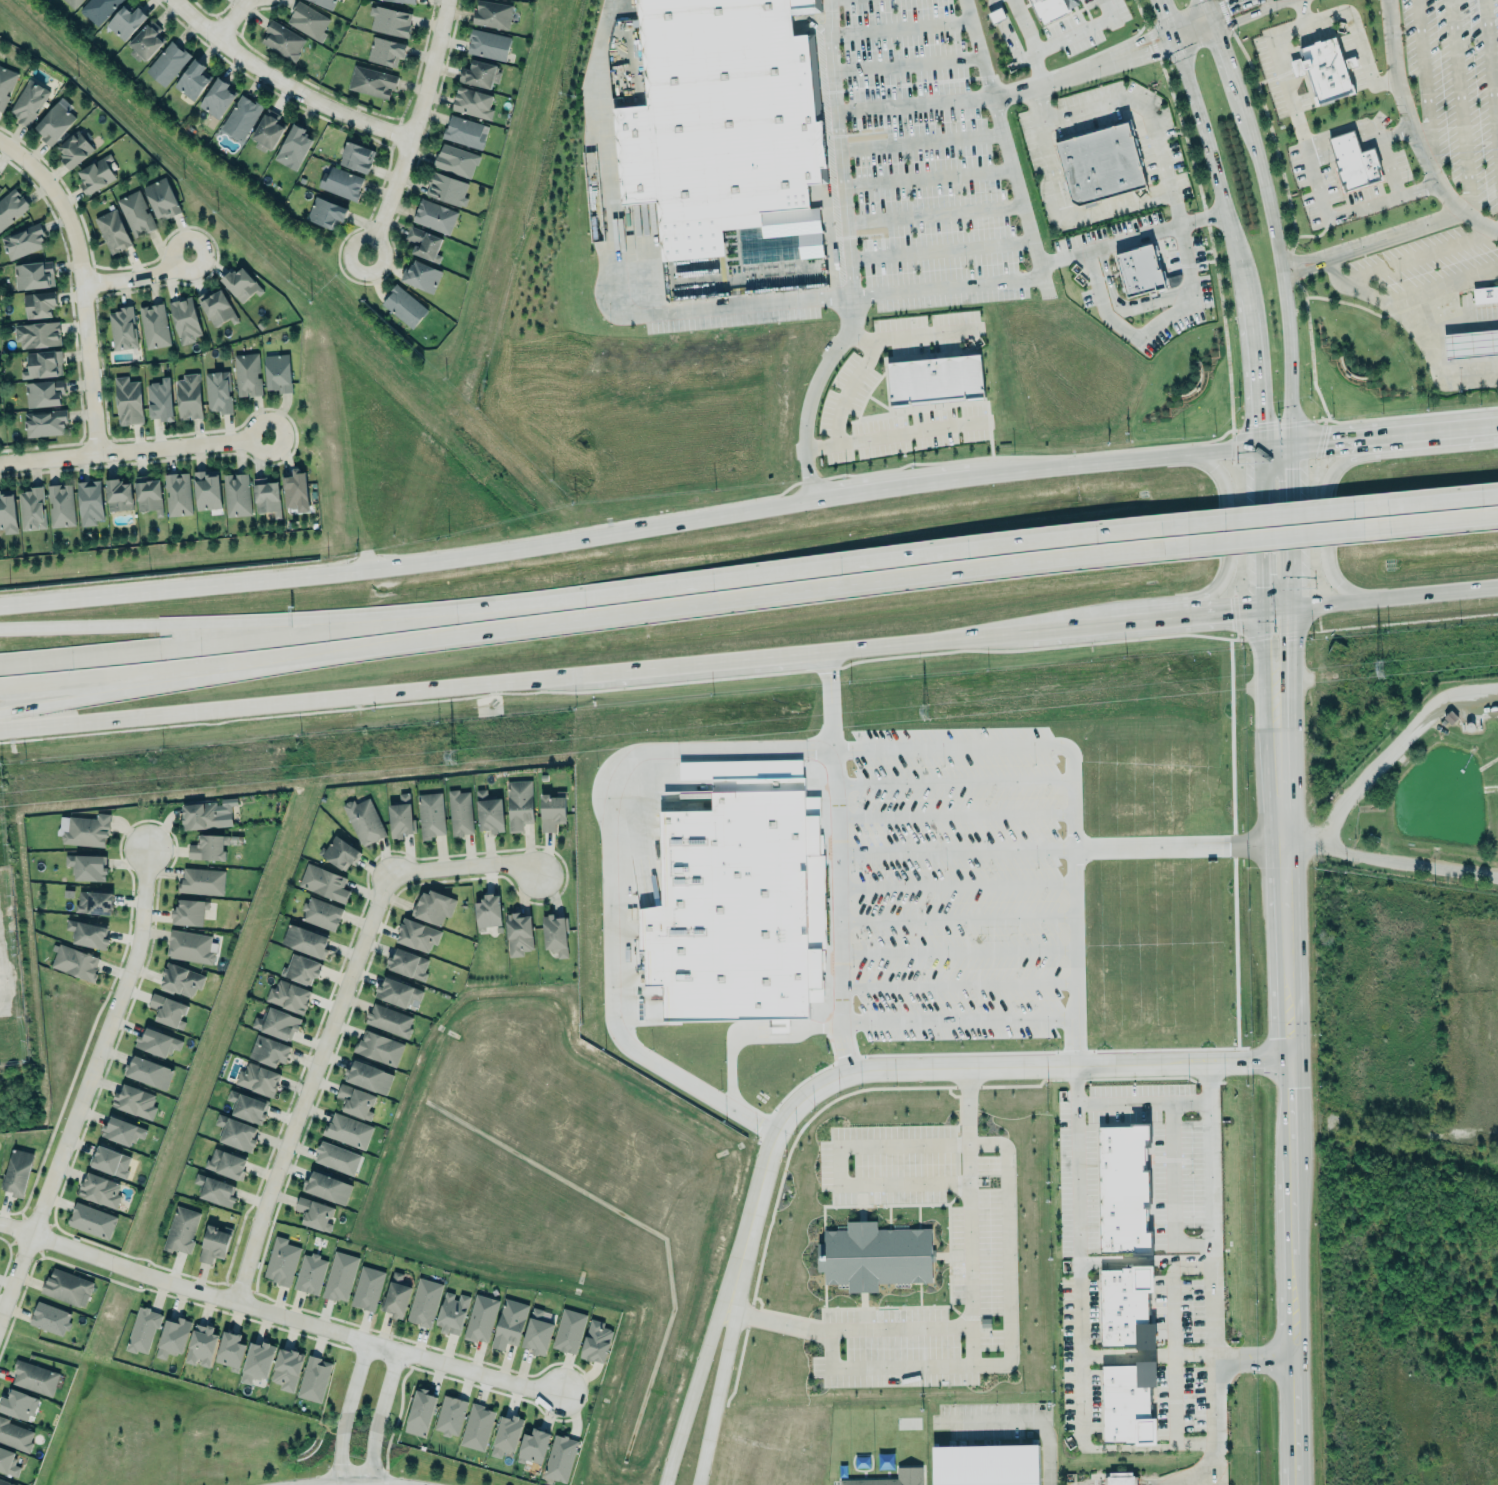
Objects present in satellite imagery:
road: (1263, 0)
road: (1265, 0)
building: (404, 1)
road: (1257, 1)
building: (72, 3)
building: (324, 3)
road: (1231, 5)
building: (1052, 8)
building: (98, 9)
building: (492, 14)
road: (1243, 16)
road: (231, 18)
road: (1217, 19)
building: (308, 20)
building: (126, 21)
building: (390, 21)
road: (901, 27)
road: (1191, 30)
road: (1078, 32)
building: (282, 40)
building: (146, 41)
road: (1029, 41)
road: (1359, 42)
building: (488, 44)
road: (980, 48)
building: (386, 51)
building: (167, 63)
road: (908, 63)
building: (1328, 70)
road: (1491, 71)
building: (479, 74)
building: (193, 80)
building: (371, 82)
road: (284, 83)
building: (6, 84)
road: (1014, 91)
road: (1427, 92)
building: (218, 98)
building: (28, 102)
building: (472, 102)
road: (916, 105)
road: (1459, 105)
road: (1096, 106)
building: (240, 118)
building: (54, 121)
road: (414, 129)
building: (267, 131)
building: (464, 132)
road: (1393, 132)
road: (921, 141)
building: (295, 145)
building: (1345, 145)
road: (839, 147)
building: (75, 150)
road: (1275, 150)
building: (356, 157)
road: (1189, 157)
building: (456, 160)
building: (1102, 164)
road: (1388, 165)
building: (1360, 168)
road: (1053, 170)
building: (95, 174)
road: (928, 177)
building: (341, 183)
building: (446, 189)
road: (1448, 194)
building: (162, 199)
building: (11, 207)
road: (1349, 207)
building: (135, 213)
building: (325, 213)
road: (935, 213)
building: (435, 216)
road: (1270, 218)
road: (1225, 219)
building: (112, 231)
road: (1389, 231)
road: (1131, 235)
building: (23, 241)
building: (425, 244)
road: (941, 250)
road: (1422, 252)
building: (1136, 274)
building: (33, 275)
road: (136, 275)
building: (421, 277)
road: (80, 283)
building: (241, 285)
road: (1441, 286)
building: (1485, 293)
road: (765, 300)
building: (39, 304)
building: (404, 306)
building: (217, 308)
road: (1160, 317)
building: (184, 319)
road: (1408, 325)
building: (153, 326)
building: (123, 328)
building: (38, 334)
building: (1472, 344)
gas station: (1472, 344)
building: (42, 364)
building: (277, 373)
building: (247, 374)
building: (935, 380)
road: (841, 388)
building: (219, 392)
building: (44, 393)
road: (812, 394)
building: (189, 397)
building: (160, 400)
building: (128, 401)
building: (45, 422)
road: (1435, 429)
road: (902, 431)
road: (1325, 439)
traffic signals: (1276, 444)
road: (133, 448)
road: (1122, 463)
building: (207, 491)
building: (296, 491)
road: (889, 492)
building: (147, 493)
building: (235, 493)
building: (178, 494)
building: (117, 495)
road: (1431, 495)
building: (267, 497)
building: (90, 503)
building: (61, 506)
building: (31, 508)
road: (1277, 508)
building: (7, 514)
road: (1325, 518)
road: (1433, 522)
road: (1278, 525)
road: (1227, 534)
road: (1279, 535)
road: (934, 545)
road: (406, 564)
road: (1388, 596)
road: (458, 605)
traffic signals: (1280, 607)
road: (649, 612)
road: (1224, 612)
road: (1099, 624)
road: (119, 625)
power tower: (1378, 669)
railway: (749, 670)
road: (514, 681)
road: (54, 700)
power tower: (921, 712)
road: (1394, 744)
road: (764, 747)
power tower: (450, 757)
road: (947, 780)
building: (519, 803)
building: (551, 810)
building: (489, 812)
building: (431, 813)
building: (459, 813)
building: (207, 814)
road: (948, 815)
building: (400, 817)
building: (364, 819)
building: (84, 830)
building: (209, 846)
road: (1059, 846)
building: (340, 851)
road: (1390, 857)
road: (832, 862)
building: (87, 865)
building: (201, 880)
building: (323, 883)
road: (949, 884)
building: (94, 901)
building: (433, 905)
building: (730, 909)
building: (189, 910)
building: (321, 912)
building: (487, 912)
road: (949, 916)
building: (518, 932)
building: (555, 933)
building: (87, 934)
building: (417, 935)
building: (305, 939)
building: (190, 946)
road: (950, 950)
building: (74, 962)
building: (408, 962)
building: (301, 967)
power substation: (8, 979)
building: (180, 980)
road: (950, 982)
building: (397, 991)
building: (289, 994)
building: (168, 1009)
road: (334, 1014)
road: (951, 1017)
building: (389, 1019)
building: (277, 1023)
road: (753, 1036)
building: (157, 1040)
road: (1290, 1045)
building: (269, 1048)
building: (379, 1048)
road: (1245, 1060)
road: (993, 1065)
building: (148, 1072)
building: (368, 1076)
building: (257, 1077)
road: (86, 1083)
building: (356, 1099)
building: (134, 1101)
road: (1135, 1104)
building: (247, 1105)
building: (122, 1129)
building: (348, 1130)
building: (236, 1131)
building: (337, 1156)
building: (110, 1160)
road: (1202, 1161)
building: (226, 1162)
road: (1070, 1163)
road: (840, 1169)
building: (17, 1172)
building: (1121, 1185)
building: (327, 1187)
building: (99, 1188)
building: (215, 1188)
road: (1166, 1191)
road: (755, 1197)
building: (314, 1213)
building: (91, 1219)
building: (181, 1228)
building: (214, 1243)
road: (968, 1253)
building: (874, 1256)
building: (282, 1260)
building: (310, 1272)
building: (340, 1275)
building: (67, 1286)
building: (367, 1287)
building: (396, 1293)
building: (424, 1300)
building: (1126, 1304)
building: (451, 1310)
road: (277, 1311)
building: (50, 1317)
building: (480, 1318)
building: (509, 1323)
building: (568, 1328)
building: (142, 1329)
road: (895, 1329)
building: (536, 1330)
building: (172, 1335)
building: (595, 1339)
building: (201, 1343)
building: (230, 1349)
road: (1007, 1352)
road: (1174, 1352)
road: (1212, 1352)
road: (1194, 1354)
building: (255, 1359)
road: (1254, 1361)
building: (286, 1369)
building: (34, 1376)
building: (314, 1379)
road: (692, 1389)
road: (716, 1391)
building: (17, 1402)
building: (1127, 1403)
road: (344, 1410)
building: (419, 1410)
road: (378, 1414)
building: (450, 1414)
road: (1025, 1423)
building: (477, 1427)
building: (506, 1434)
building: (15, 1435)
building: (532, 1444)
road: (1131, 1448)
building: (560, 1457)
building: (8, 1461)
building: (985, 1464)
road: (1203, 1469)
road: (1208, 1475)
building: (889, 1478)
building: (1119, 1479)
building: (6, 1482)
road: (338, 1483)

